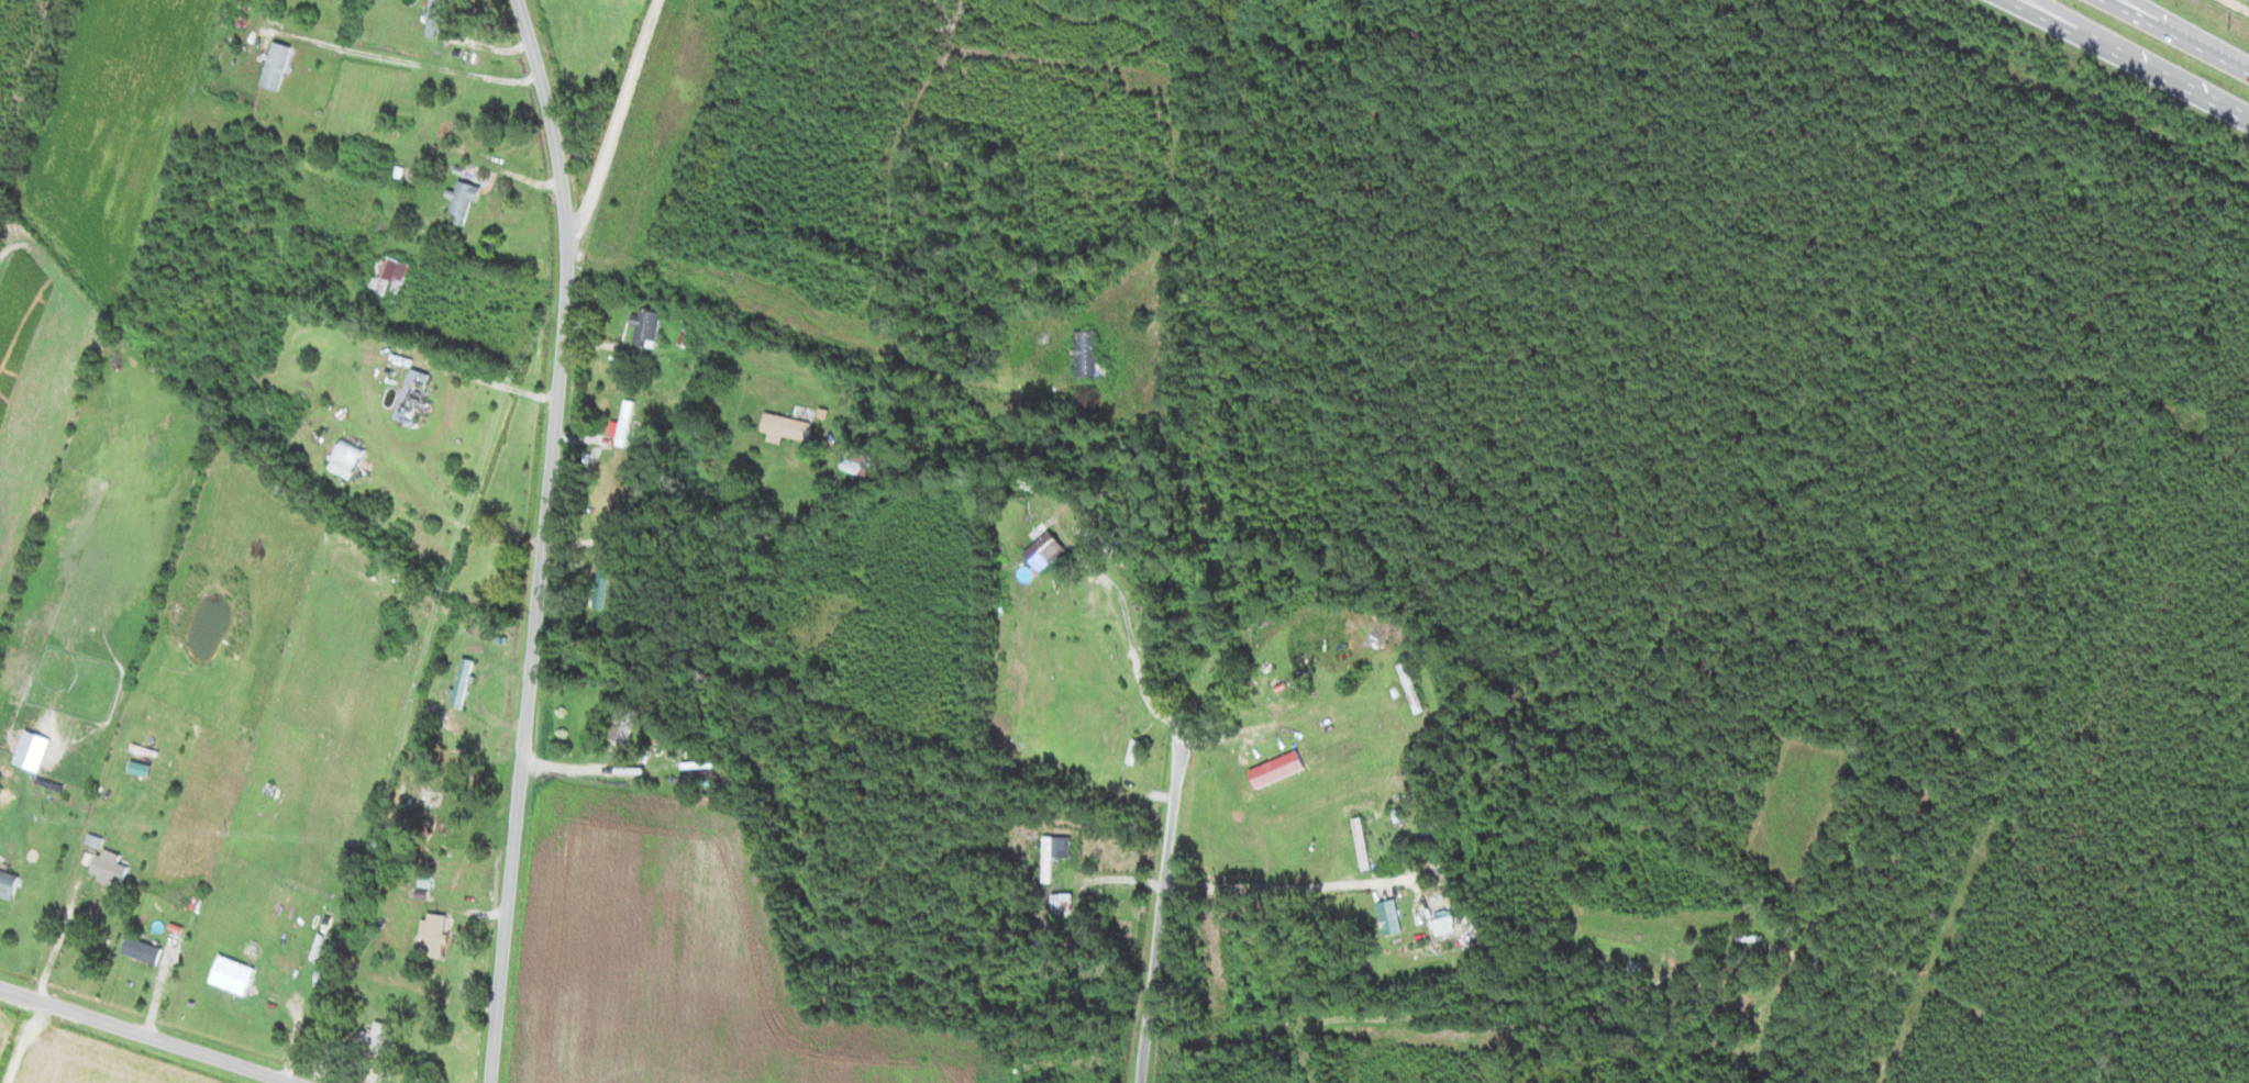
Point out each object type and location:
road: (2054, 15)
road: (2192, 35)
road: (2175, 36)
road: (2129, 60)
building: (279, 66)
road: (553, 127)
road: (616, 131)
building: (465, 201)
building: (392, 277)
building: (649, 326)
building: (1090, 353)
building: (417, 397)
building: (631, 422)
building: (789, 427)
building: (350, 459)
building: (862, 462)
building: (1050, 550)
building: (606, 578)
road: (533, 671)
building: (465, 682)
building: (1415, 686)
building: (44, 744)
building: (151, 745)
building: (1281, 769)
building: (7, 800)
building: (1404, 811)
road: (1171, 827)
building: (1365, 842)
building: (1059, 853)
building: (9, 861)
building: (113, 868)
building: (429, 881)
building: (1066, 902)
building: (1394, 916)
building: (439, 935)
building: (145, 951)
building: (1640, 967)
building: (236, 975)
road: (1366, 1015)
road: (141, 1038)
building: (381, 1041)

